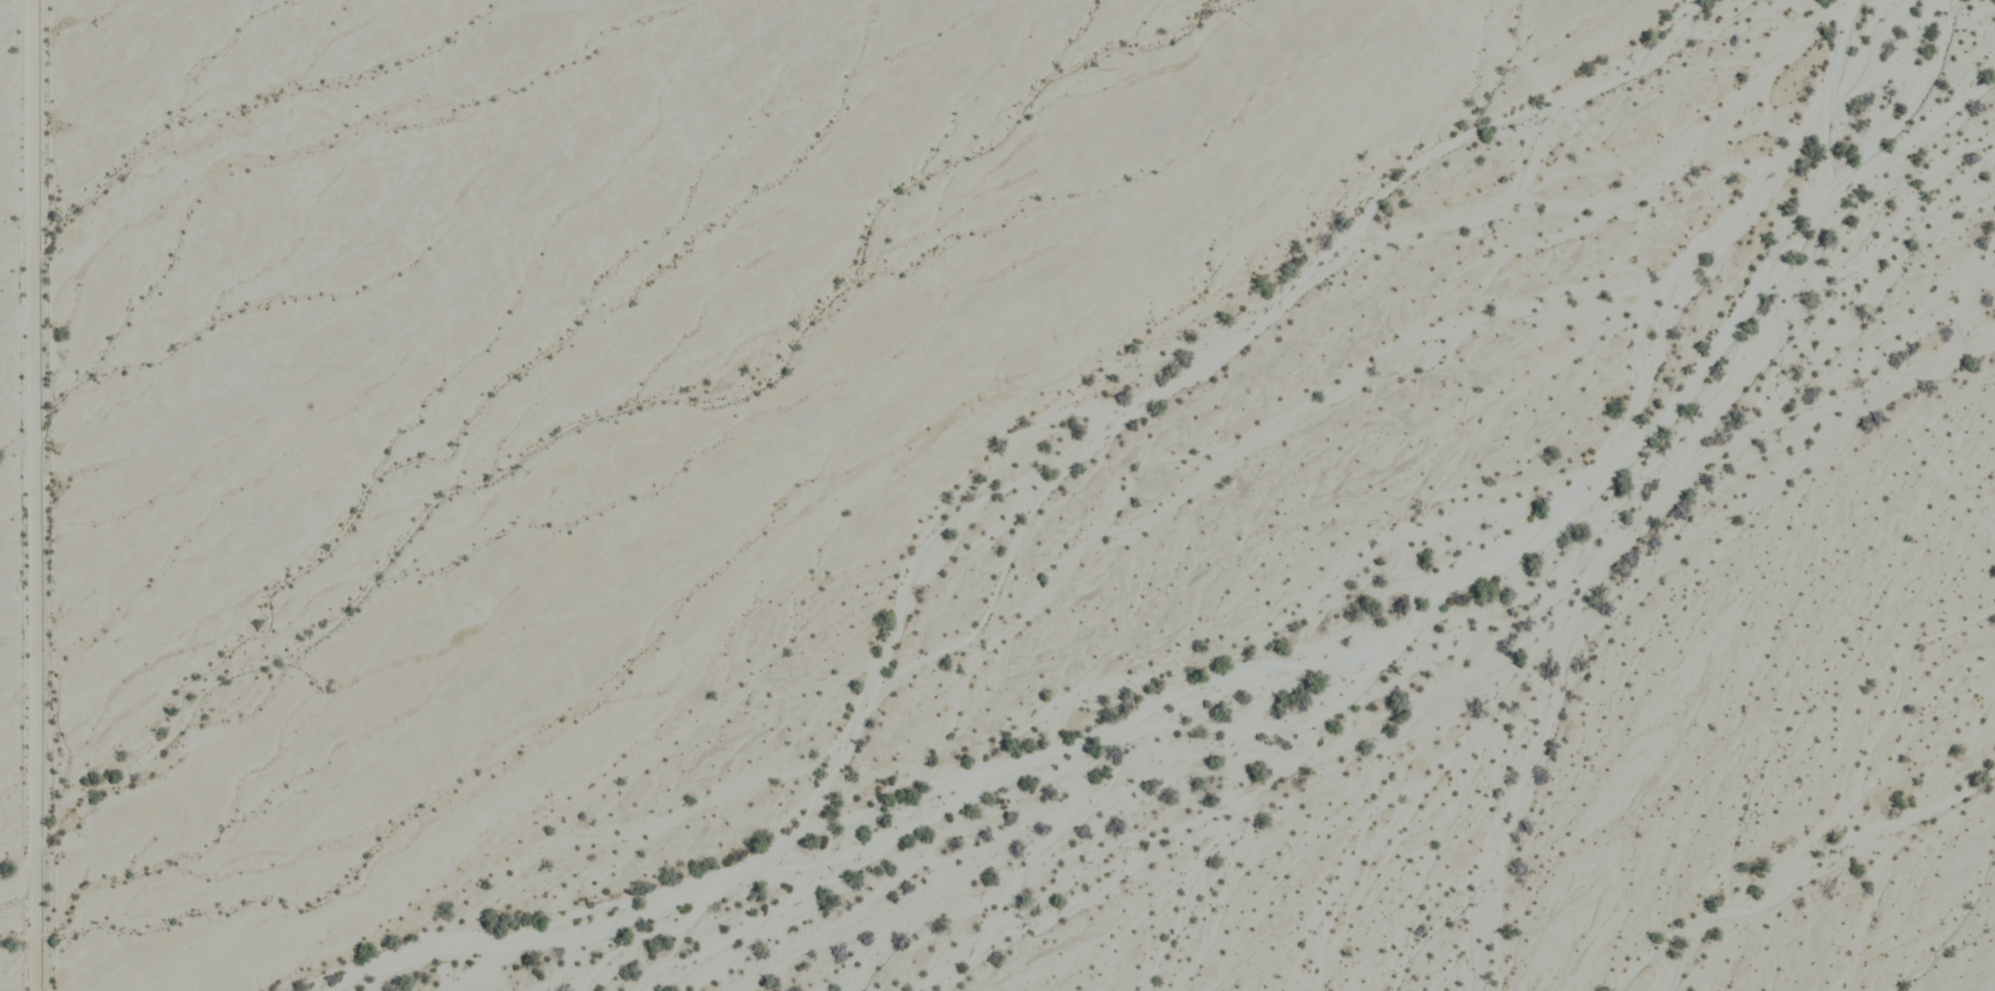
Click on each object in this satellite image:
road: (32, 495)

